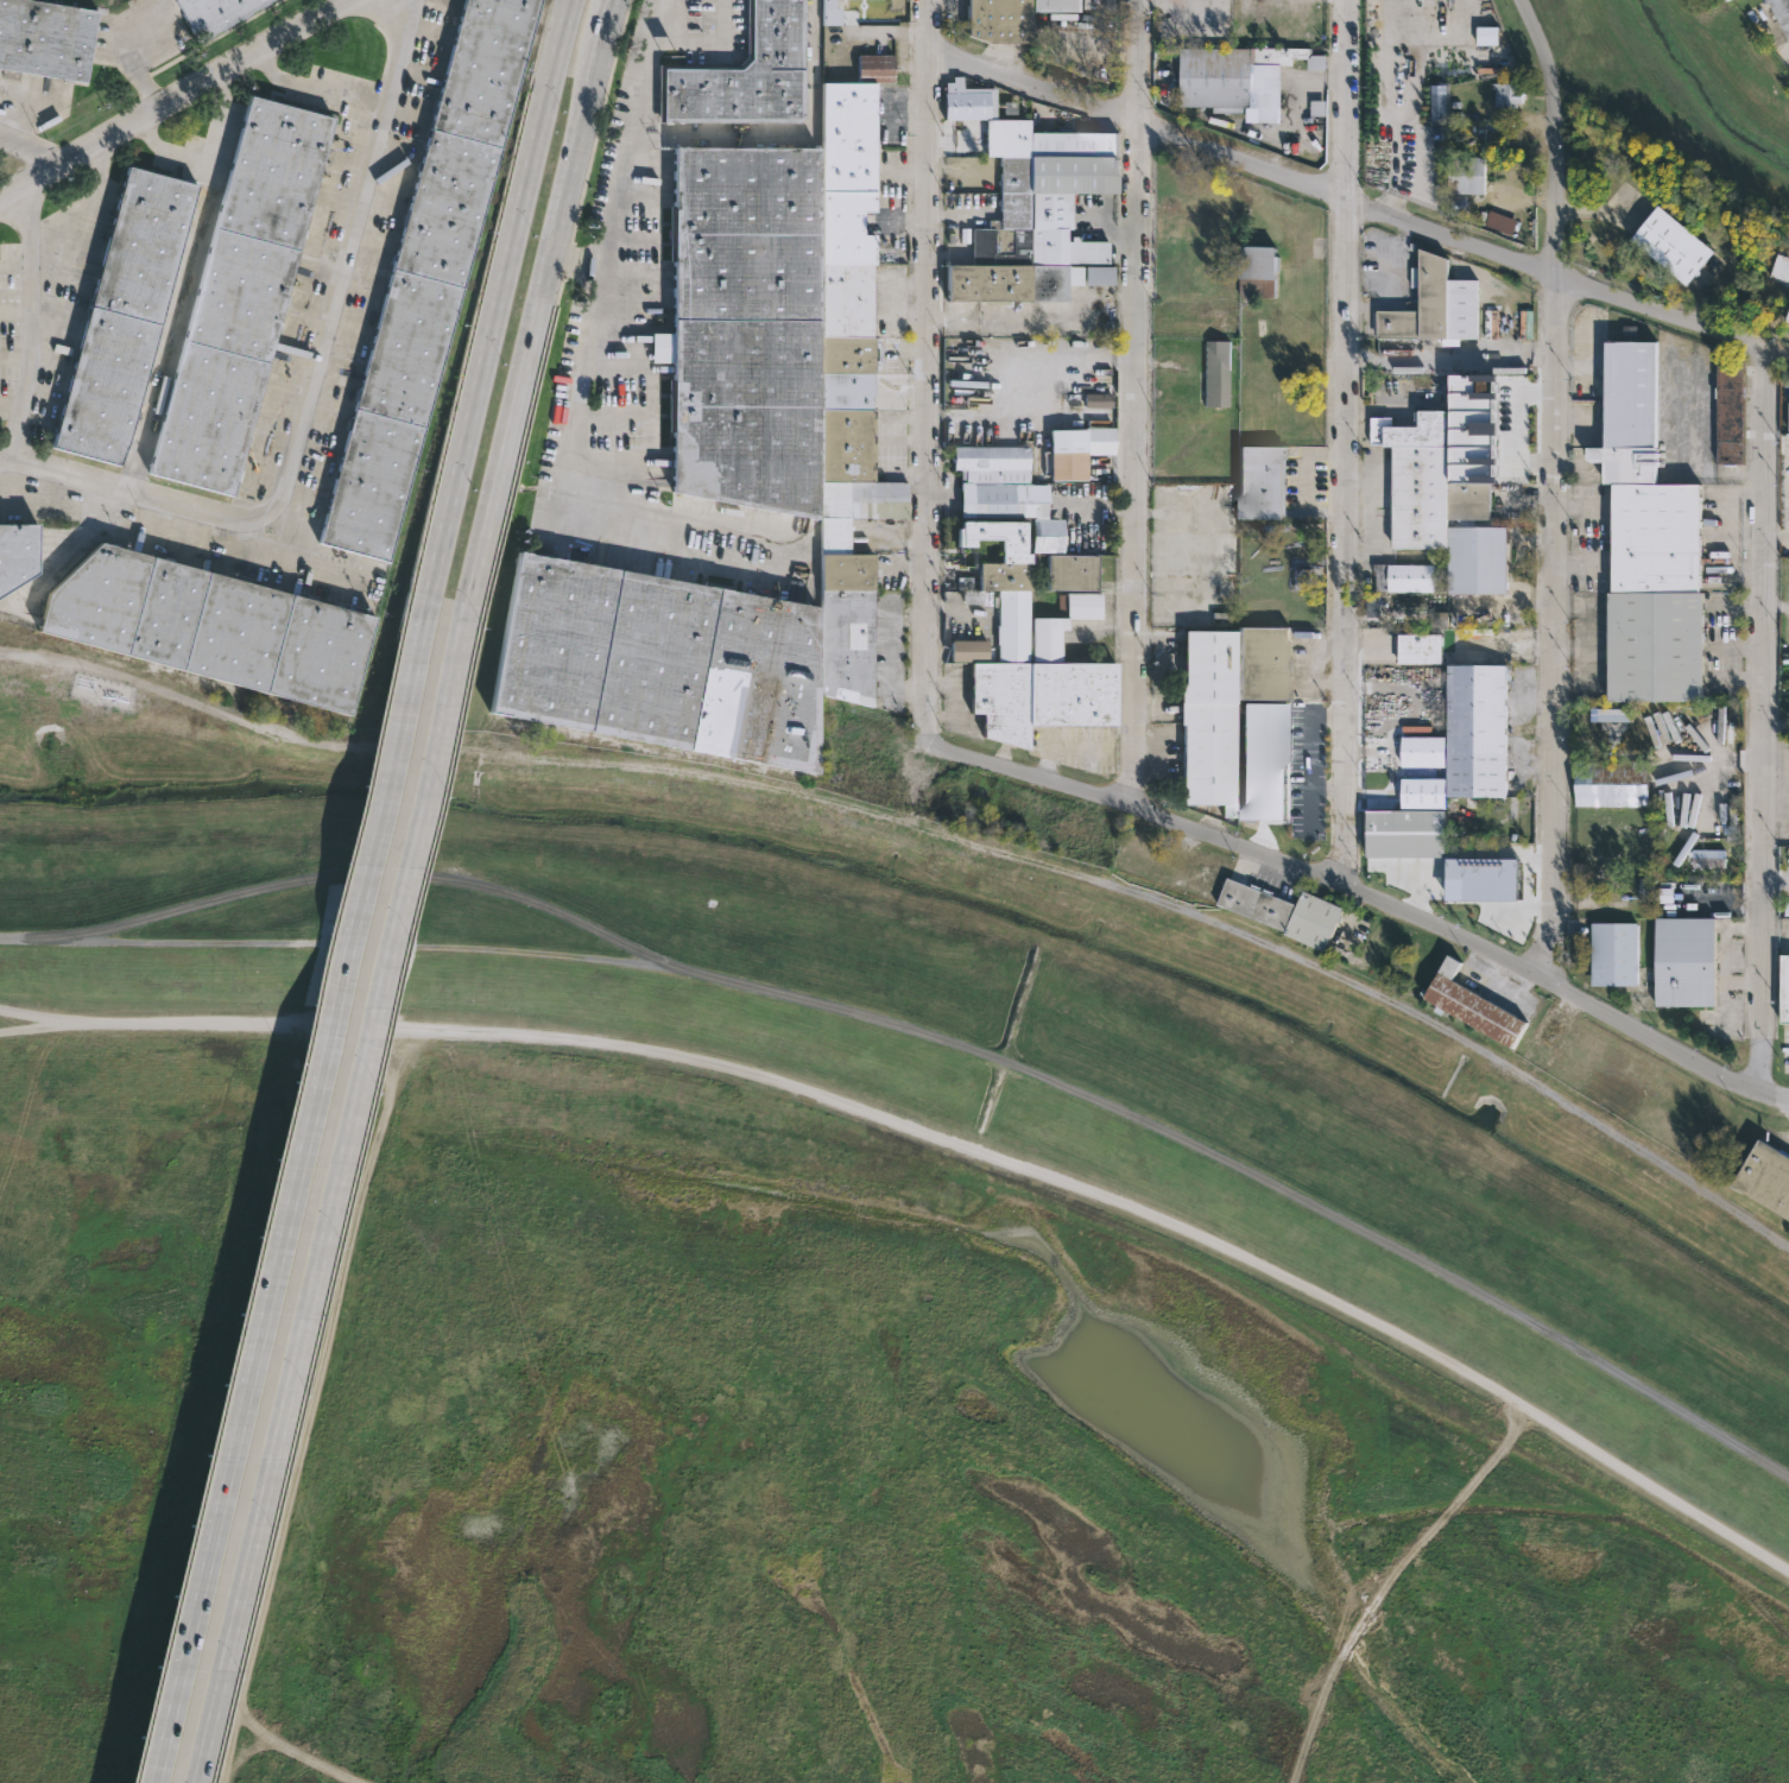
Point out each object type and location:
building: (1726, 0)
building: (894, 4)
road: (613, 12)
building: (1781, 13)
building: (214, 14)
building: (1007, 18)
building: (1491, 37)
building: (48, 39)
road: (709, 40)
road: (1543, 50)
building: (1287, 57)
building: (875, 67)
building: (746, 72)
building: (1215, 78)
road: (315, 89)
building: (1505, 94)
road: (172, 99)
building: (968, 100)
building: (894, 114)
road: (785, 129)
road: (204, 144)
road: (29, 150)
road: (625, 153)
building: (1464, 175)
road: (524, 201)
road: (1361, 207)
building: (1037, 217)
road: (562, 219)
building: (1494, 221)
building: (1199, 222)
building: (1668, 244)
building: (1253, 272)
building: (431, 278)
road: (1390, 282)
building: (247, 297)
road: (58, 298)
building: (1431, 306)
building: (127, 317)
road: (173, 317)
building: (1788, 321)
building: (746, 327)
road: (1450, 355)
road: (930, 372)
building: (1215, 372)
building: (847, 394)
road: (304, 398)
road: (1139, 406)
building: (1728, 412)
building: (1788, 418)
building: (1191, 437)
building: (1101, 441)
road: (1341, 441)
building: (1068, 454)
building: (1207, 470)
building: (1260, 480)
building: (1423, 481)
building: (1000, 491)
road: (567, 492)
road: (1581, 508)
road: (1557, 543)
road: (1775, 543)
building: (1645, 544)
building: (20, 552)
road: (1580, 563)
building: (1069, 570)
building: (1402, 576)
building: (973, 596)
building: (1079, 605)
building: (1009, 606)
building: (210, 627)
building: (1047, 638)
building: (1416, 647)
building: (968, 650)
road: (892, 652)
building: (660, 662)
building: (1264, 662)
building: (1038, 696)
building: (1208, 717)
road: (1760, 722)
building: (1473, 725)
building: (1421, 750)
building: (1263, 764)
building: (1610, 782)
building: (1421, 791)
building: (1402, 833)
railway: (933, 835)
power tower: (201, 872)
road: (364, 875)
power tower: (506, 881)
road: (1368, 896)
building: (1281, 911)
power tower: (815, 931)
road: (30, 938)
building: (1611, 953)
building: (1682, 961)
building: (1783, 987)
building: (1468, 1005)
road: (48, 1017)
power tower: (1188, 1063)
road: (314, 1093)
road: (355, 1098)
road: (941, 1136)
road: (1245, 1168)
building: (1764, 1180)
power tower: (1541, 1245)
park: (804, 1329)

